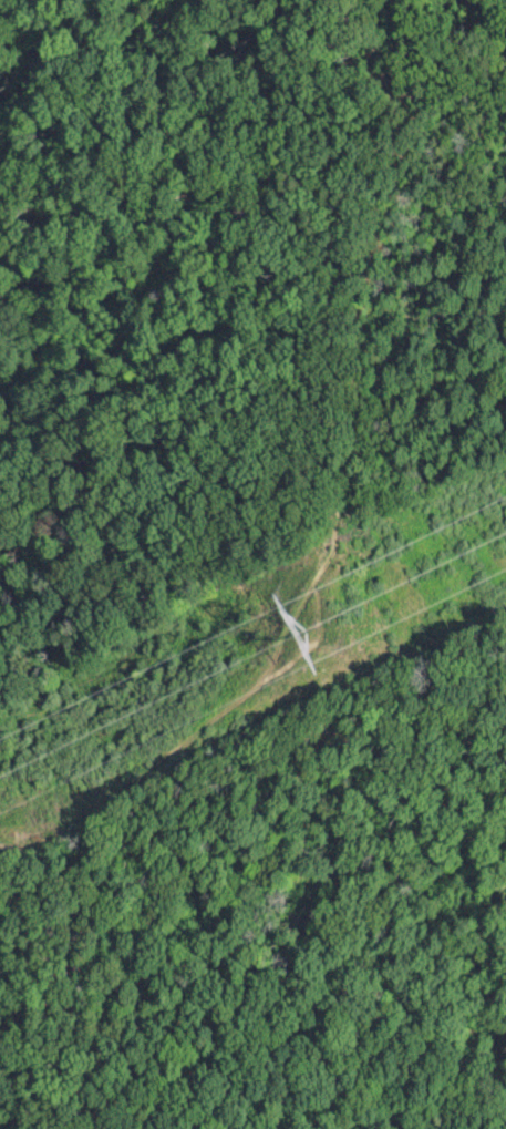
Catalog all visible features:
power tower: (303, 625)

